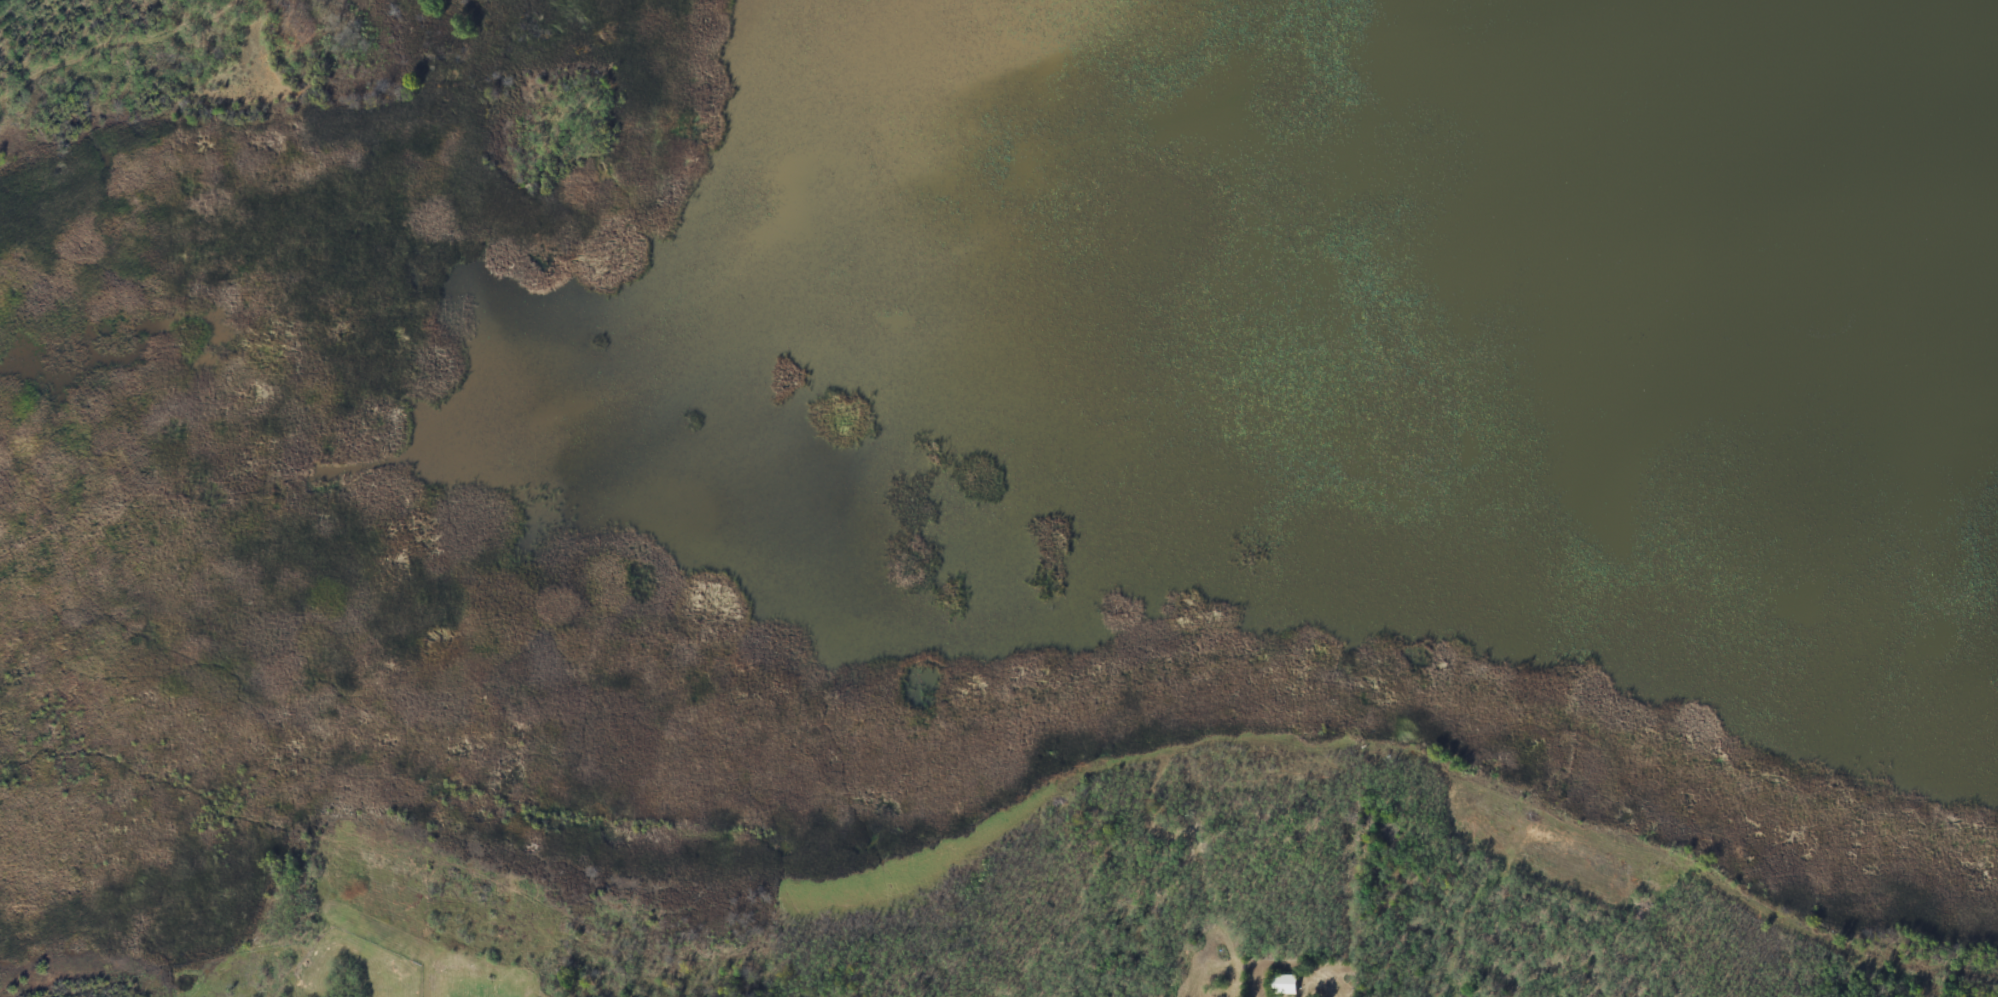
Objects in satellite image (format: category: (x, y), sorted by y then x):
building: (1283, 984)

